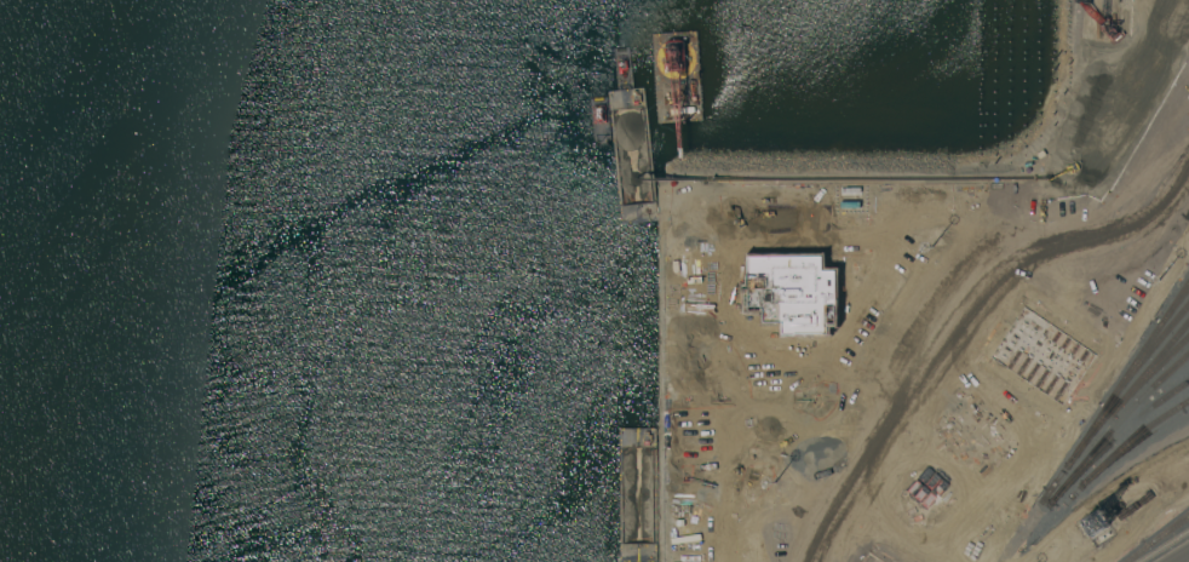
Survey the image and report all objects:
building: (708, 286)
road: (693, 478)
railway: (1167, 532)
railway: (1159, 538)
railway: (1165, 546)

